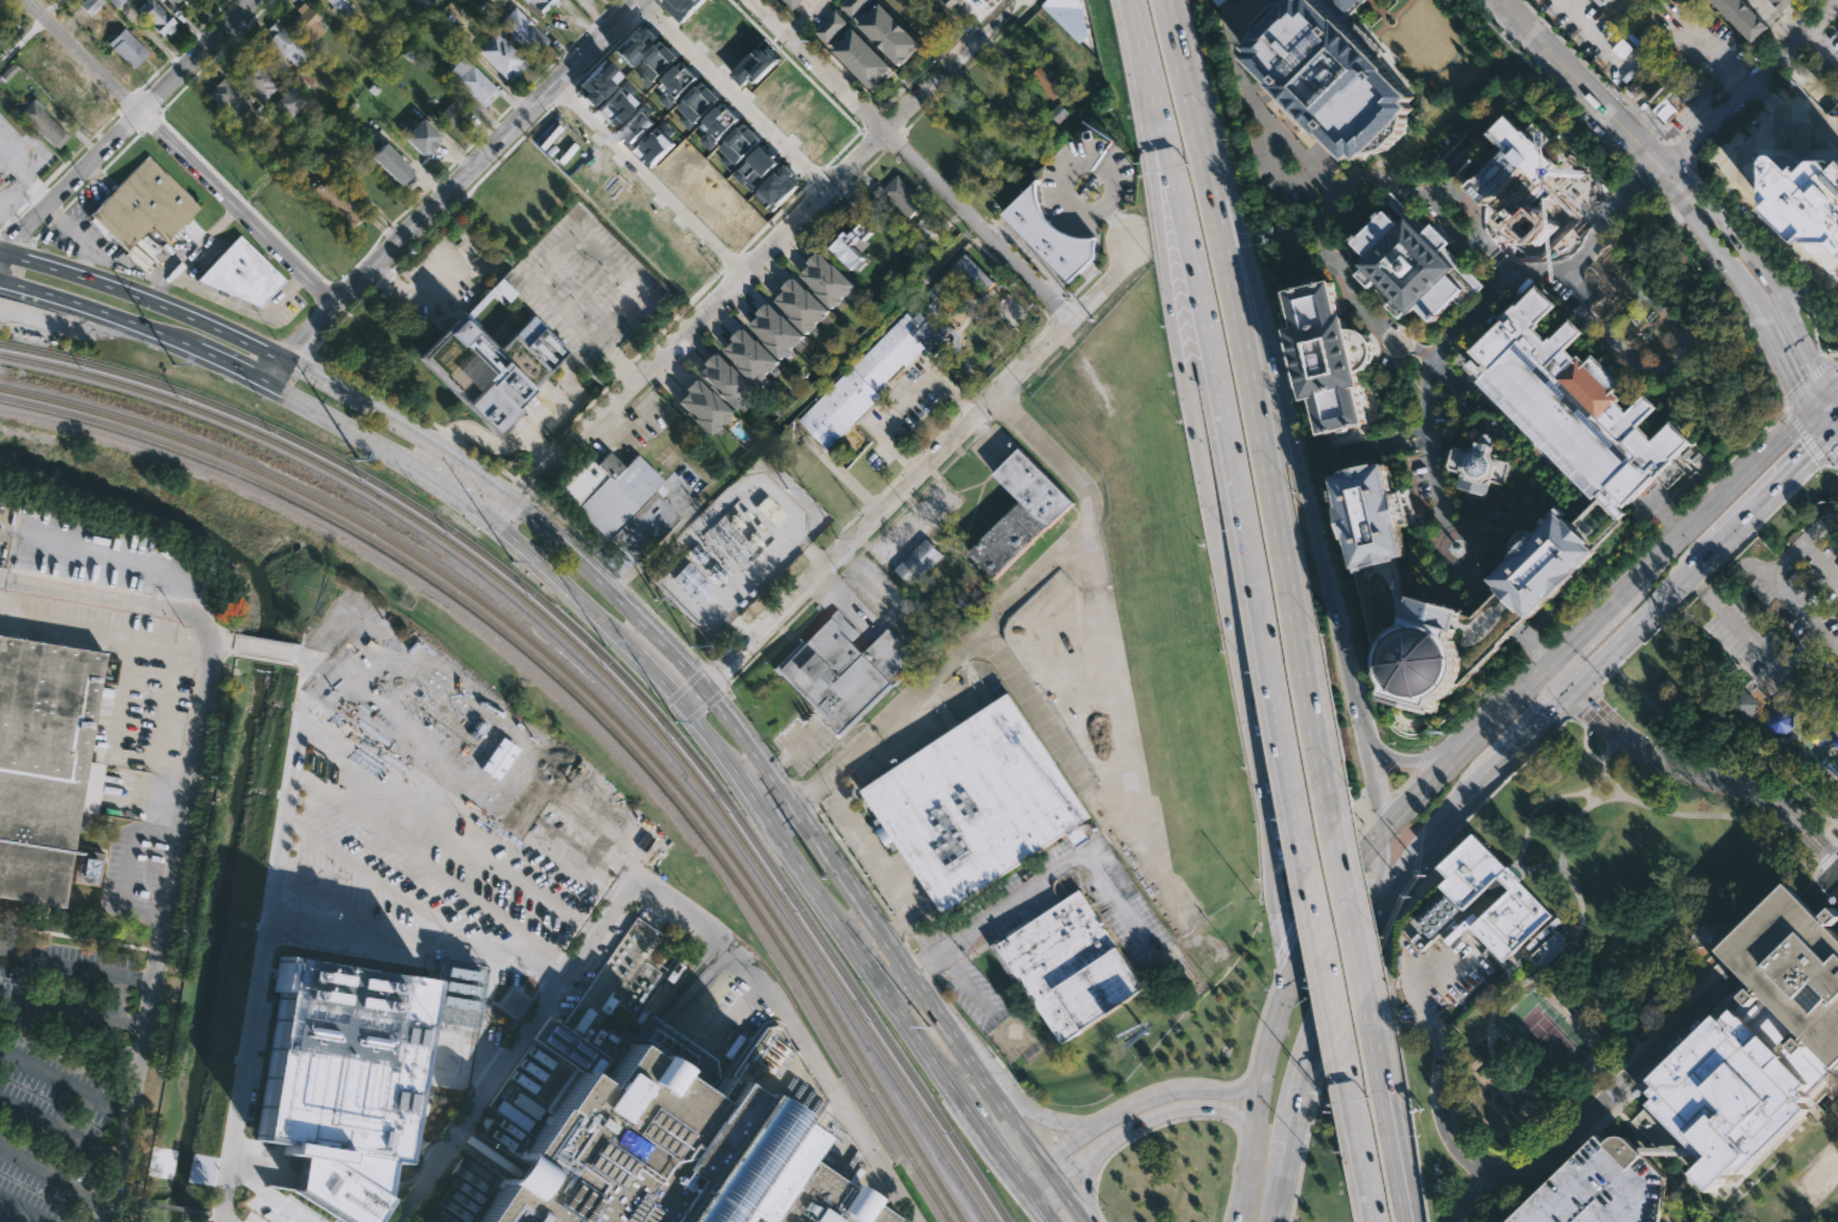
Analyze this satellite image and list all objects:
building: (316, 0)
road: (1626, 0)
building: (1225, 1)
building: (115, 2)
building: (168, 2)
building: (337, 2)
building: (791, 2)
building: (952, 2)
building: (1606, 2)
building: (1783, 4)
building: (90, 5)
building: (1345, 5)
building: (539, 6)
building: (854, 6)
road: (50, 7)
road: (1806, 8)
road: (782, 10)
road: (1244, 11)
road: (803, 16)
building: (156, 17)
building: (1072, 17)
building: (1741, 17)
road: (1773, 18)
building: (307, 22)
road: (796, 24)
road: (1830, 25)
building: (831, 28)
building: (521, 30)
road: (1784, 30)
building: (890, 35)
road: (1593, 36)
parking lot: (1594, 36)
road: (1815, 40)
road: (181, 43)
building: (283, 44)
building: (635, 44)
building: (127, 48)
road: (1803, 50)
road: (1573, 52)
road: (389, 53)
road: (1710, 53)
road: (1760, 53)
road: (84, 54)
building: (502, 56)
building: (862, 58)
road: (1146, 60)
building: (657, 62)
road: (1790, 64)
building: (758, 65)
road: (966, 65)
building: (1334, 74)
road: (1776, 78)
building: (1046, 79)
building: (261, 80)
building: (597, 80)
building: (471, 82)
road: (1545, 82)
building: (677, 83)
road: (1577, 83)
road: (1746, 83)
road: (1725, 88)
road: (1761, 90)
road: (731, 95)
road: (894, 95)
building: (228, 97)
road: (127, 98)
road: (148, 100)
building: (76, 101)
building: (289, 102)
building: (616, 103)
building: (698, 106)
building: (1665, 106)
road: (1627, 112)
road: (1790, 112)
building: (449, 113)
building: (1058, 113)
road: (1635, 114)
road: (1701, 114)
road: (128, 116)
road: (891, 120)
building: (976, 120)
road: (1694, 120)
road: (148, 121)
building: (42, 124)
road: (124, 125)
building: (718, 125)
building: (631, 126)
road: (1689, 126)
road: (1652, 131)
road: (1714, 136)
building: (420, 137)
road: (890, 139)
road: (1287, 142)
road: (1669, 142)
building: (740, 145)
road: (80, 146)
road: (1642, 149)
road: (120, 151)
building: (1509, 156)
road: (1677, 157)
road: (912, 158)
building: (390, 164)
building: (758, 168)
road: (1070, 172)
road: (1281, 173)
road: (23, 175)
road: (97, 175)
road: (1642, 175)
road: (1161, 176)
road: (646, 179)
road: (1647, 185)
road: (447, 187)
building: (778, 187)
road: (37, 191)
road: (1683, 193)
road: (77, 194)
road: (14, 196)
building: (898, 196)
building: (1804, 196)
road: (1750, 202)
building: (336, 203)
road: (1538, 203)
road: (23, 205)
building: (143, 206)
road: (234, 206)
road: (56, 216)
road: (11, 217)
road: (11, 218)
road: (1118, 222)
building: (926, 223)
road: (2, 226)
road: (41, 232)
road: (429, 232)
building: (1049, 232)
road: (1483, 232)
road: (1746, 233)
road: (1699, 234)
road: (77, 236)
road: (16, 240)
road: (571, 241)
building: (852, 245)
building: (1824, 251)
road: (192, 252)
road: (1237, 253)
road: (1501, 258)
road: (2, 260)
road: (754, 262)
building: (1412, 263)
road: (127, 264)
road: (1837, 264)
road: (1759, 266)
road: (1043, 271)
building: (243, 274)
road: (384, 277)
building: (827, 278)
road: (331, 281)
road: (1575, 281)
building: (583, 284)
parking garage: (583, 284)
road: (430, 287)
building: (501, 288)
road: (586, 288)
road: (1351, 288)
road: (1801, 289)
road: (1797, 292)
road: (1499, 295)
road: (1652, 295)
road: (1734, 301)
building: (801, 304)
building: (479, 306)
road: (244, 307)
road: (85, 310)
road: (1060, 310)
road: (716, 321)
road: (1046, 321)
road: (56, 329)
building: (776, 329)
road: (659, 331)
road: (1815, 334)
road: (52, 342)
road: (270, 349)
building: (752, 353)
building: (1328, 354)
road: (1779, 355)
road: (220, 363)
building: (487, 363)
road: (336, 369)
road: (619, 369)
road: (623, 369)
road: (564, 371)
building: (875, 372)
building: (725, 379)
road: (1812, 383)
road: (1833, 389)
traffic signals: (1796, 394)
road: (1833, 396)
road: (1185, 397)
building: (1570, 402)
road: (1819, 402)
building: (700, 405)
road: (965, 407)
road: (583, 412)
road: (1257, 413)
road: (1801, 419)
road: (1819, 425)
road: (341, 426)
road: (1834, 430)
road: (1806, 433)
road: (453, 436)
road: (936, 436)
road: (1834, 437)
road: (508, 445)
road: (1383, 445)
road: (537, 449)
road: (1830, 449)
road: (541, 453)
road: (1734, 456)
traffic signals: (1809, 456)
building: (1479, 462)
road: (1832, 463)
road: (908, 465)
road: (501, 469)
road: (911, 479)
road: (1304, 481)
road: (891, 483)
road: (1437, 484)
road: (523, 490)
road: (922, 490)
building: (605, 491)
road: (1770, 492)
road: (1240, 495)
road: (455, 497)
road: (1450, 497)
road: (1508, 497)
road: (868, 504)
road: (1647, 505)
road: (1706, 507)
building: (1371, 509)
road: (1468, 510)
road: (1489, 511)
building: (1019, 513)
road: (1764, 519)
road: (1670, 520)
road: (561, 521)
road: (1504, 522)
road: (1674, 522)
building: (643, 526)
road: (1479, 526)
road: (842, 529)
power substation: (736, 547)
building: (1551, 553)
road: (818, 557)
road: (1821, 557)
road: (1785, 558)
building: (916, 561)
road: (601, 562)
road: (850, 562)
road: (1461, 563)
road: (1595, 565)
road: (840, 573)
road: (1472, 579)
road: (622, 582)
road: (1698, 585)
road: (565, 586)
road: (1603, 586)
road: (824, 588)
road: (1018, 592)
road: (782, 595)
parking lot: (1784, 609)
road: (1801, 610)
road: (1499, 611)
road: (885, 617)
road: (1642, 619)
road: (1732, 623)
road: (651, 627)
road: (1586, 627)
road: (1519, 631)
road: (104, 633)
road: (743, 633)
building: (1429, 637)
road: (1644, 637)
road: (677, 639)
road: (261, 645)
road: (765, 647)
road: (1535, 648)
road: (1537, 651)
railway: (604, 659)
traffic signals: (1550, 663)
road: (1571, 663)
railway: (597, 666)
building: (842, 671)
road: (408, 673)
road: (654, 679)
railway: (580, 685)
road: (1546, 688)
traffic signals: (1574, 688)
railway: (573, 693)
road: (1581, 700)
road: (1760, 702)
road: (1474, 703)
building: (1742, 703)
road: (1507, 706)
road: (167, 709)
building: (1779, 720)
road: (1534, 726)
road: (1363, 732)
road: (1255, 736)
road: (113, 737)
road: (1582, 738)
road: (1726, 738)
road: (706, 741)
road: (1780, 741)
road: (794, 750)
road: (1408, 757)
road: (1420, 759)
building: (43, 765)
road: (1812, 767)
road: (1606, 768)
road: (1687, 774)
road: (1403, 781)
road: (460, 789)
road: (779, 790)
road: (809, 790)
road: (167, 796)
road: (1588, 796)
road: (151, 799)
road: (1385, 799)
road: (1837, 799)
road: (752, 802)
building: (974, 802)
road: (1540, 803)
road: (1373, 814)
road: (779, 815)
road: (1576, 815)
road: (1729, 815)
road: (179, 820)
road: (1390, 822)
road: (1825, 828)
road: (445, 829)
traffic signals: (1383, 832)
building: (1078, 835)
road: (1430, 835)
helipad: (353, 839)
road: (1334, 857)
road: (1381, 859)
road: (1826, 859)
road: (882, 862)
road: (855, 865)
road: (1543, 865)
building: (86, 867)
road: (431, 867)
road: (122, 868)
road: (1516, 869)
road: (1807, 880)
road: (1825, 880)
road: (1822, 885)
road: (661, 888)
road: (1837, 889)
building: (401, 892)
road: (1113, 894)
road: (1018, 895)
road: (1834, 897)
road: (1827, 898)
building: (1499, 901)
road: (417, 905)
road: (1816, 907)
road: (1348, 912)
road: (1700, 918)
road: (1762, 924)
road: (899, 926)
road: (1291, 932)
parking lot: (387, 933)
road: (1312, 934)
road: (1772, 934)
road: (73, 936)
road: (1291, 936)
road: (264, 938)
road: (1376, 941)
road: (1780, 942)
road: (904, 944)
road: (1357, 944)
road: (151, 950)
road: (1323, 954)
road: (921, 960)
traffic signals: (1297, 963)
road: (864, 964)
road: (1568, 964)
building: (1066, 965)
road: (920, 966)
road: (74, 970)
road: (1316, 975)
traffic signals: (1340, 975)
road: (892, 980)
road: (1742, 980)
road: (965, 982)
road: (1660, 992)
building: (457, 993)
building: (513, 1000)
road: (71, 1016)
road: (936, 1016)
road: (1665, 1019)
road: (690, 1028)
park: (1547, 1034)
road: (1315, 1043)
building: (1749, 1043)
road: (514, 1044)
road: (987, 1048)
road: (1489, 1054)
road: (1265, 1055)
road: (1665, 1056)
road: (1573, 1072)
road: (1592, 1072)
parking lot: (55, 1073)
building: (335, 1076)
road: (1197, 1077)
road: (64, 1082)
road: (1192, 1089)
road: (1237, 1102)
road: (1511, 1103)
road: (1181, 1108)
road: (1387, 1108)
fountain: (1486, 1113)
road: (1180, 1116)
road: (1054, 1119)
road: (1357, 1130)
road: (60, 1132)
road: (1581, 1134)
road: (1599, 1136)
road: (1496, 1138)
road: (992, 1140)
road: (1067, 1145)
road: (1551, 1150)
road: (1059, 1152)
building: (671, 1157)
road: (986, 1161)
road: (1281, 1167)
road: (1066, 1174)
road: (55, 1176)
road: (1085, 1184)
park: (1800, 1184)
road: (1241, 1186)
building: (1599, 1187)
parking garage: (1599, 1187)
road: (1026, 1188)
road: (268, 1194)
road: (1472, 1194)
road: (22, 1210)
road: (1041, 1210)
road: (229, 1216)

